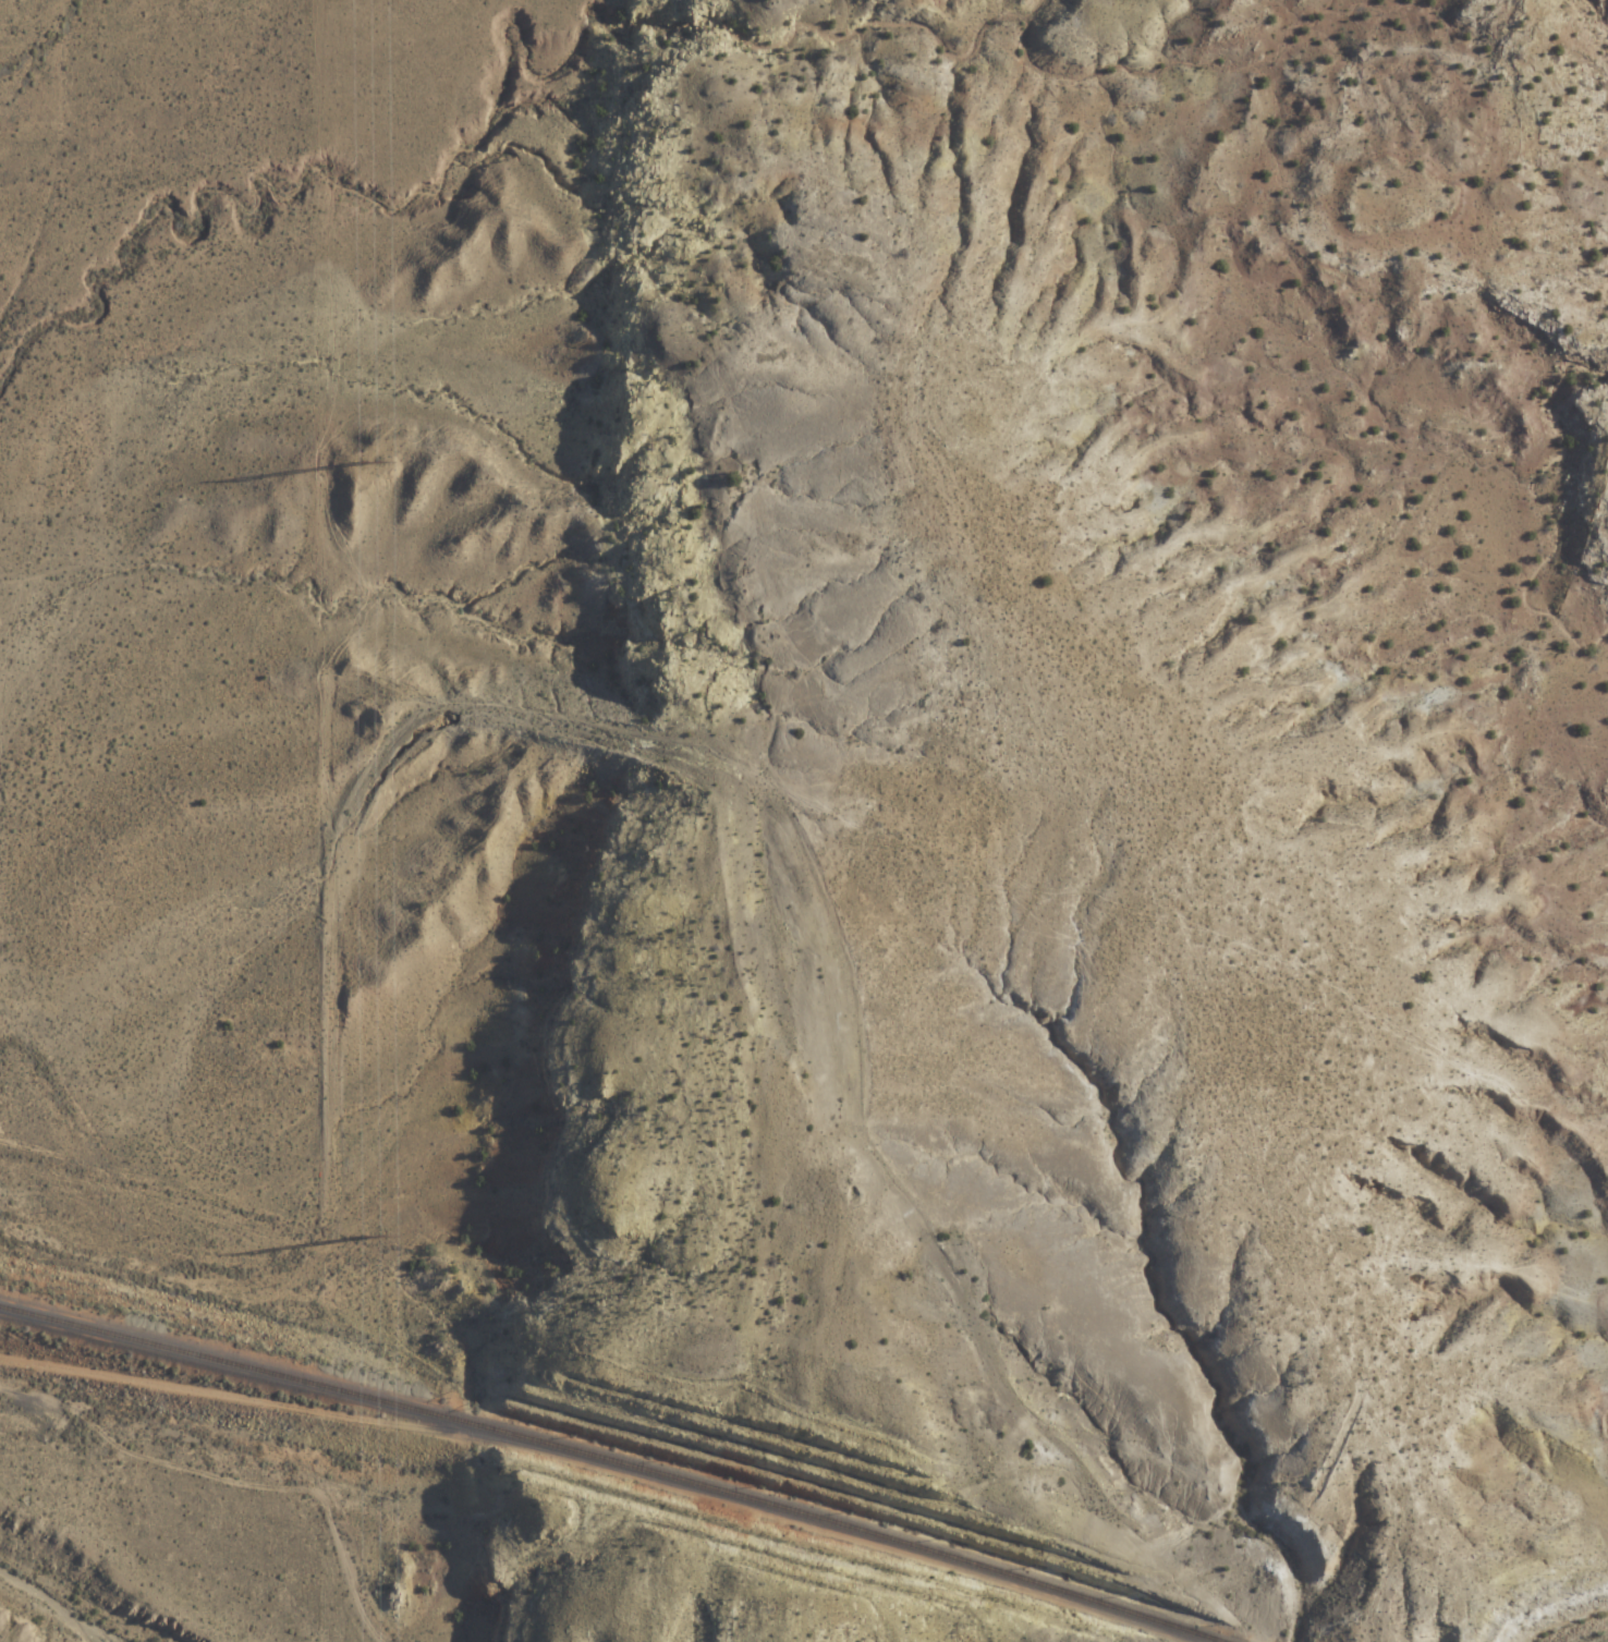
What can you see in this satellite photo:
power tower: (393, 464)
power tower: (399, 1237)
railway: (610, 1463)

